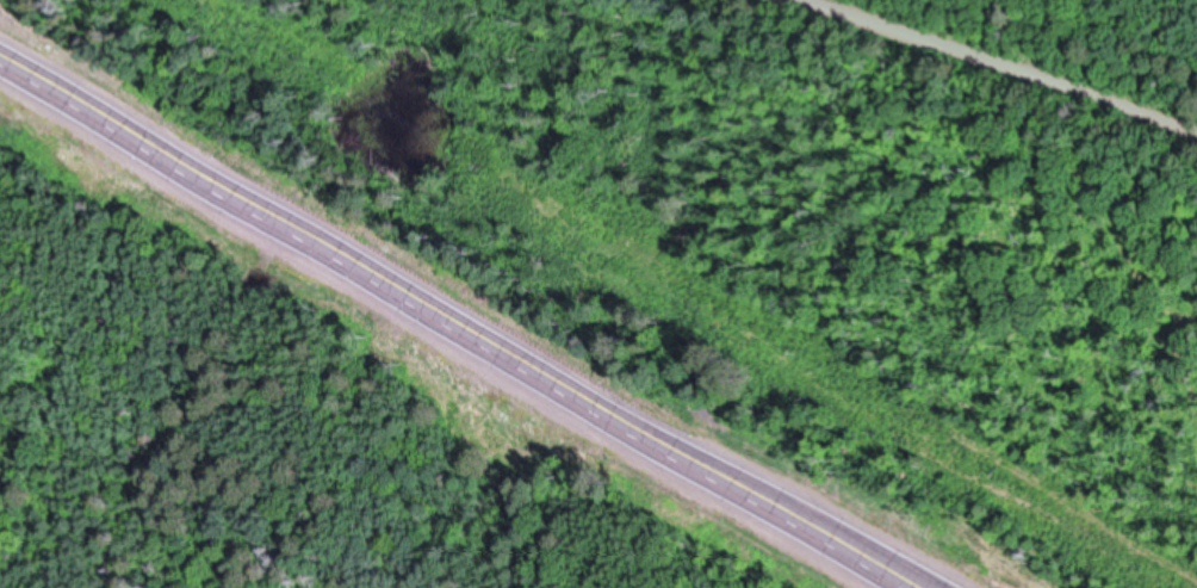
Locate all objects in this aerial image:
road: (987, 70)
road: (459, 322)

